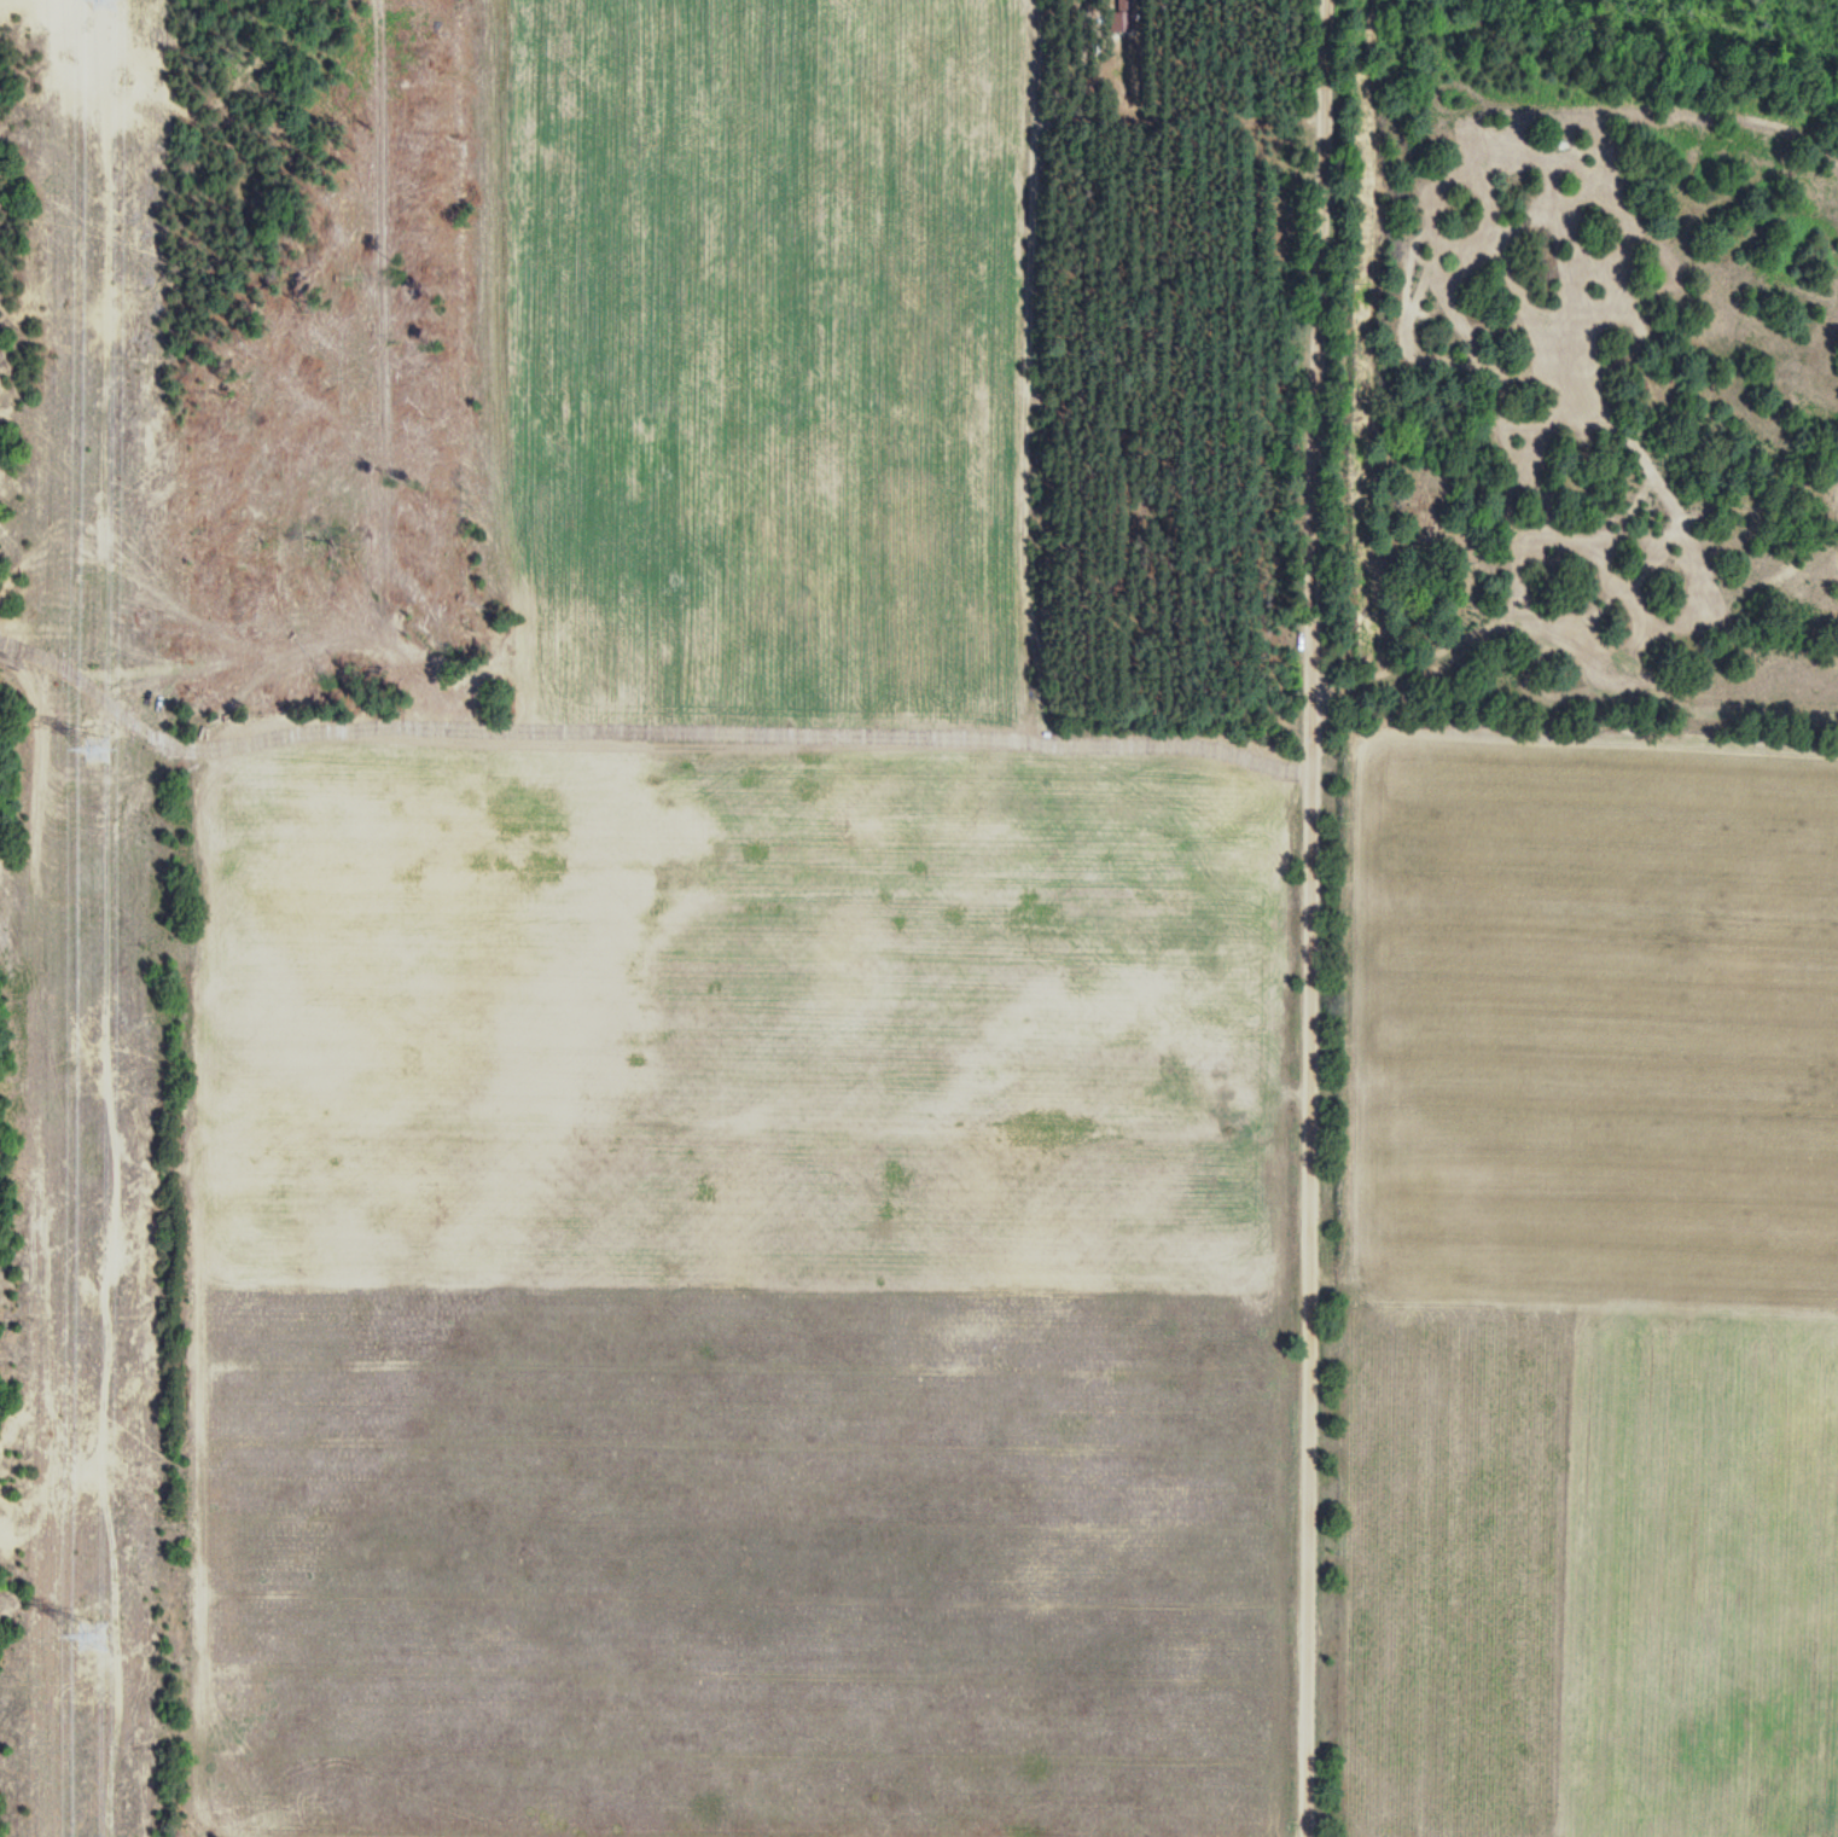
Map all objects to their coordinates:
road: (1119, 121)
power tower: (100, 746)
road: (1307, 918)
power tower: (95, 1629)

